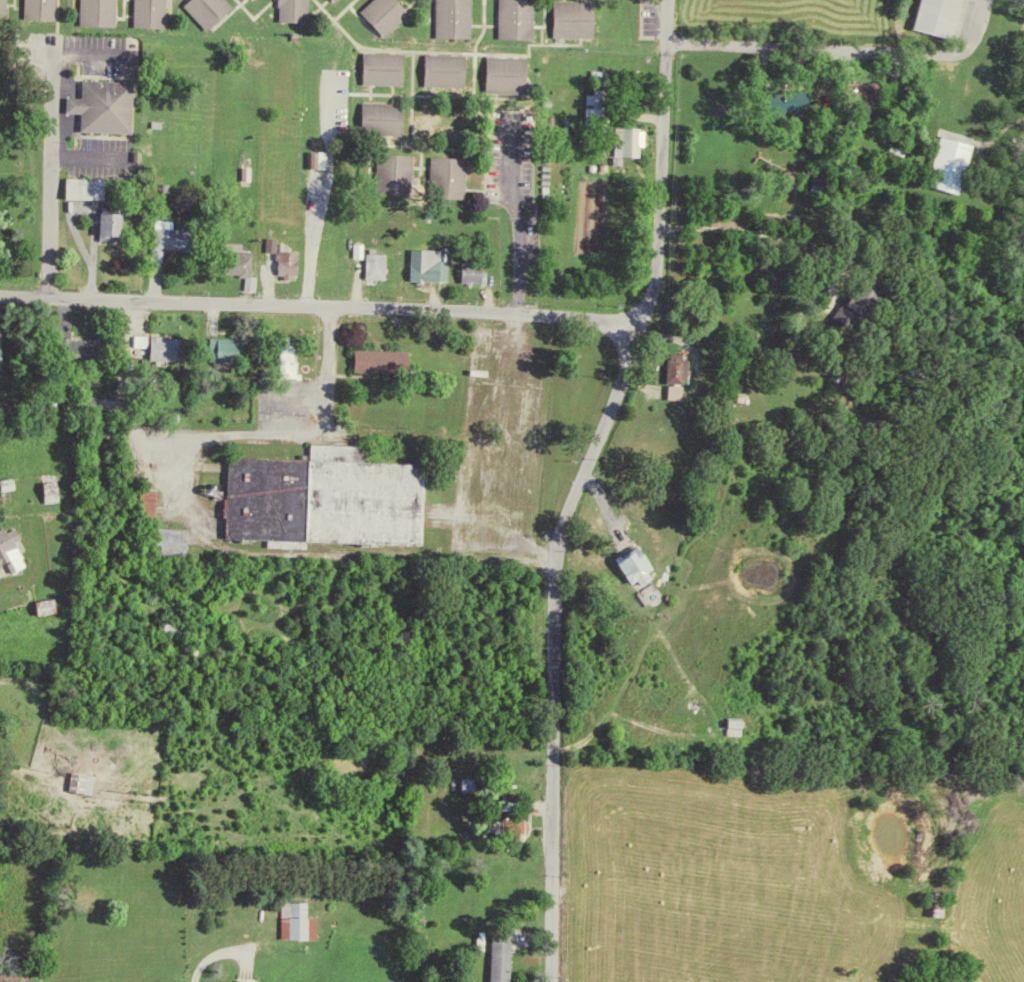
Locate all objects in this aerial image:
building: (345, 0)
building: (0, 5)
building: (35, 8)
building: (203, 9)
building: (287, 9)
building: (93, 11)
building: (145, 12)
building: (381, 12)
building: (449, 17)
building: (511, 17)
building: (569, 17)
building: (948, 17)
road: (792, 45)
building: (378, 66)
building: (440, 69)
building: (501, 71)
building: (604, 97)
building: (99, 105)
building: (803, 106)
building: (592, 107)
building: (604, 115)
building: (377, 116)
building: (623, 138)
building: (636, 141)
building: (589, 146)
building: (314, 155)
building: (327, 158)
building: (953, 163)
building: (387, 171)
building: (407, 171)
building: (442, 175)
building: (79, 186)
building: (106, 225)
building: (121, 225)
building: (167, 234)
building: (366, 250)
building: (232, 261)
building: (283, 261)
building: (371, 264)
building: (421, 264)
building: (383, 266)
building: (468, 272)
building: (252, 273)
road: (320, 306)
building: (153, 344)
building: (219, 347)
building: (73, 349)
building: (239, 349)
building: (5, 350)
building: (280, 356)
building: (375, 359)
building: (685, 375)
building: (5, 483)
road: (577, 486)
building: (46, 487)
building: (58, 487)
building: (318, 497)
building: (140, 502)
building: (182, 540)
building: (165, 543)
building: (8, 548)
building: (646, 568)
building: (43, 605)
building: (55, 606)
building: (177, 631)
building: (741, 726)
building: (89, 782)
building: (523, 826)
building: (304, 921)
building: (508, 957)
building: (253, 981)

